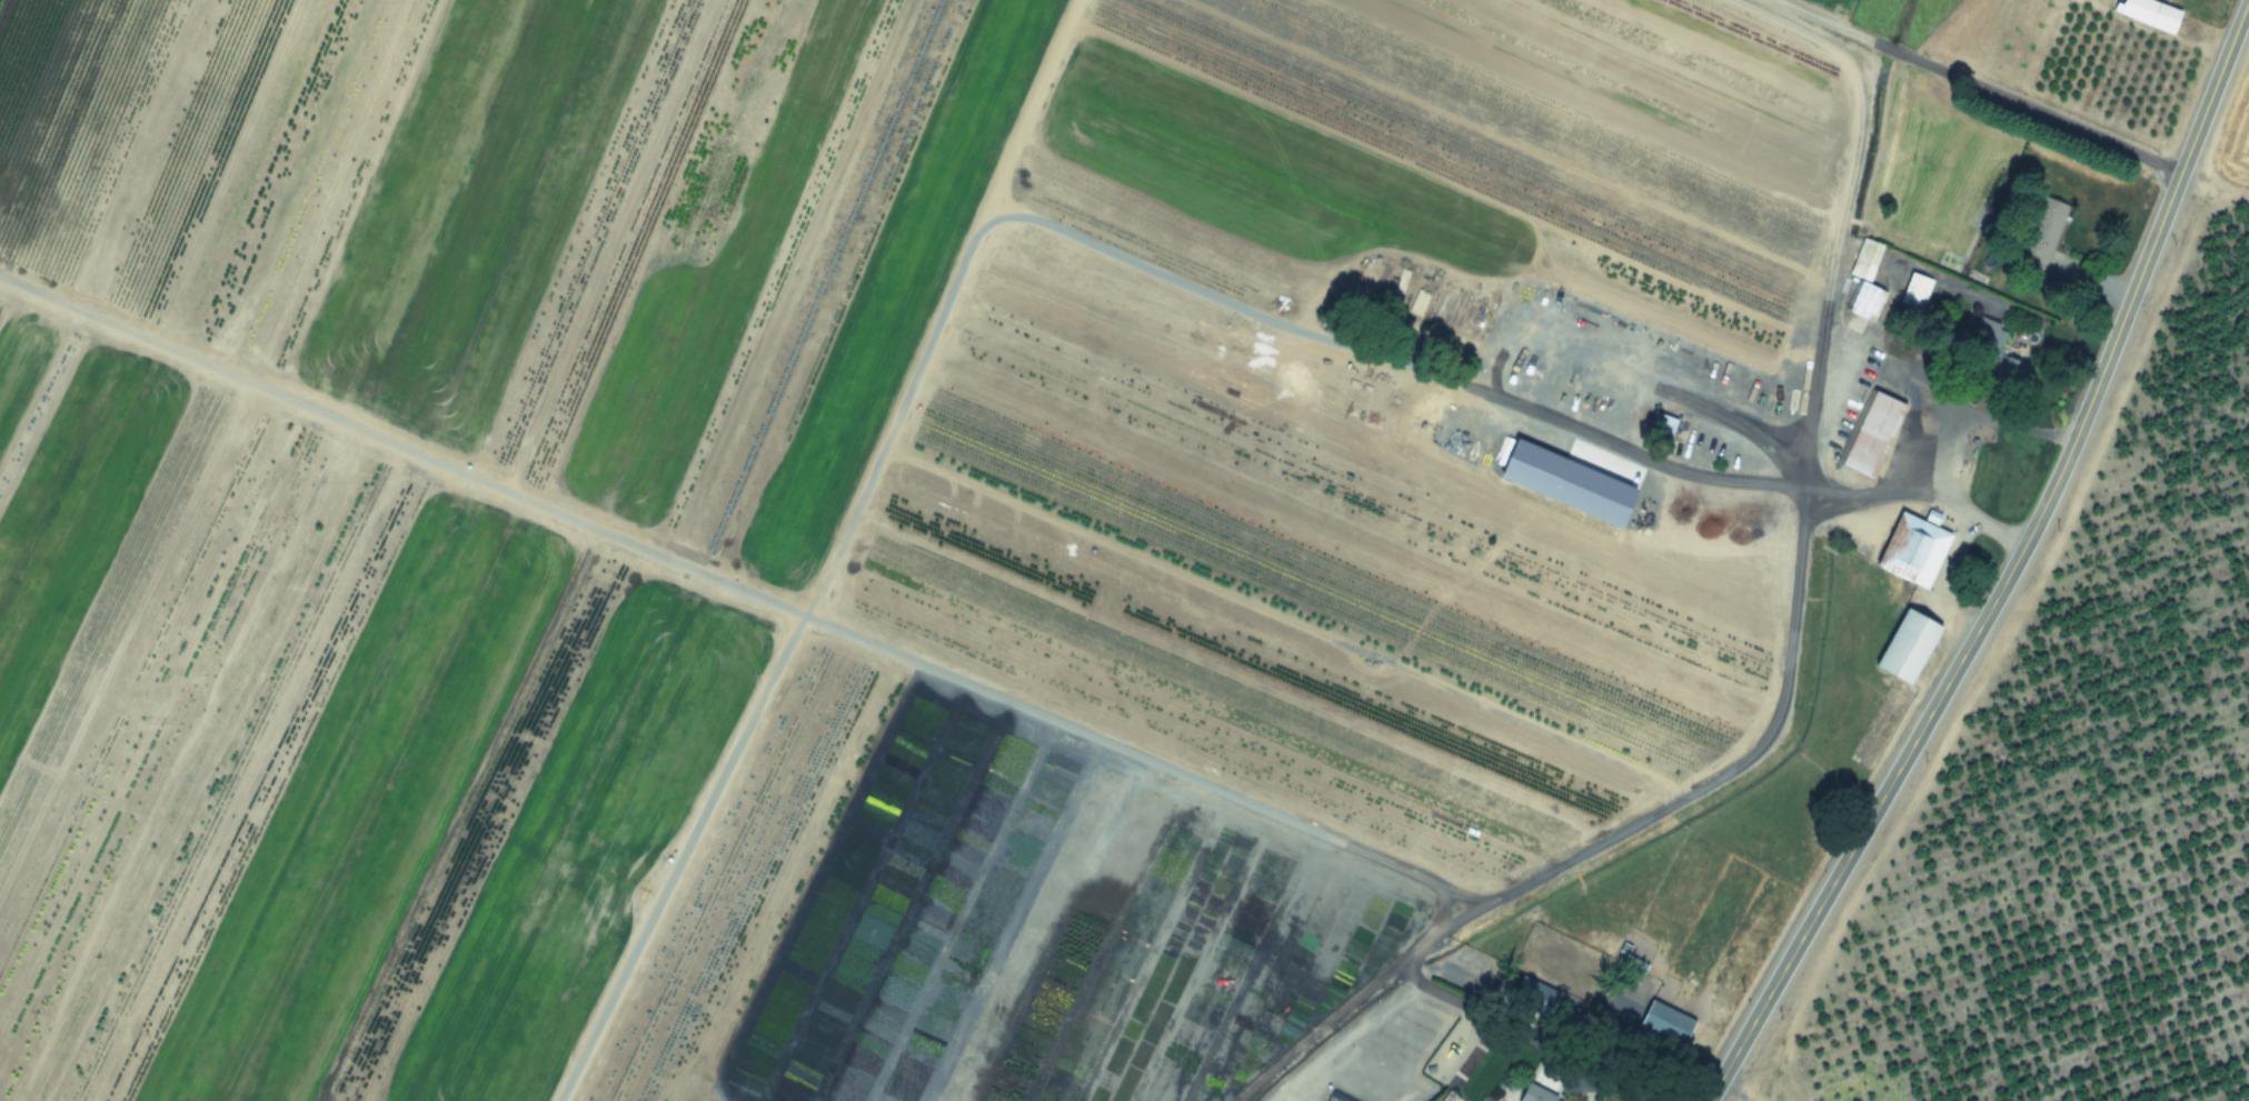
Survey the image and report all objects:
building: (2150, 12)
road: (1980, 84)
crop: (2236, 140)
building: (2041, 228)
road: (1831, 263)
building: (1865, 280)
building: (1914, 289)
building: (2011, 370)
road: (1572, 422)
building: (1662, 422)
building: (1871, 432)
crop: (964, 523)
building: (1912, 549)
road: (2011, 567)
building: (1907, 644)
road: (1609, 845)
building: (1664, 1021)
road: (1629, 1070)
building: (1536, 1093)

